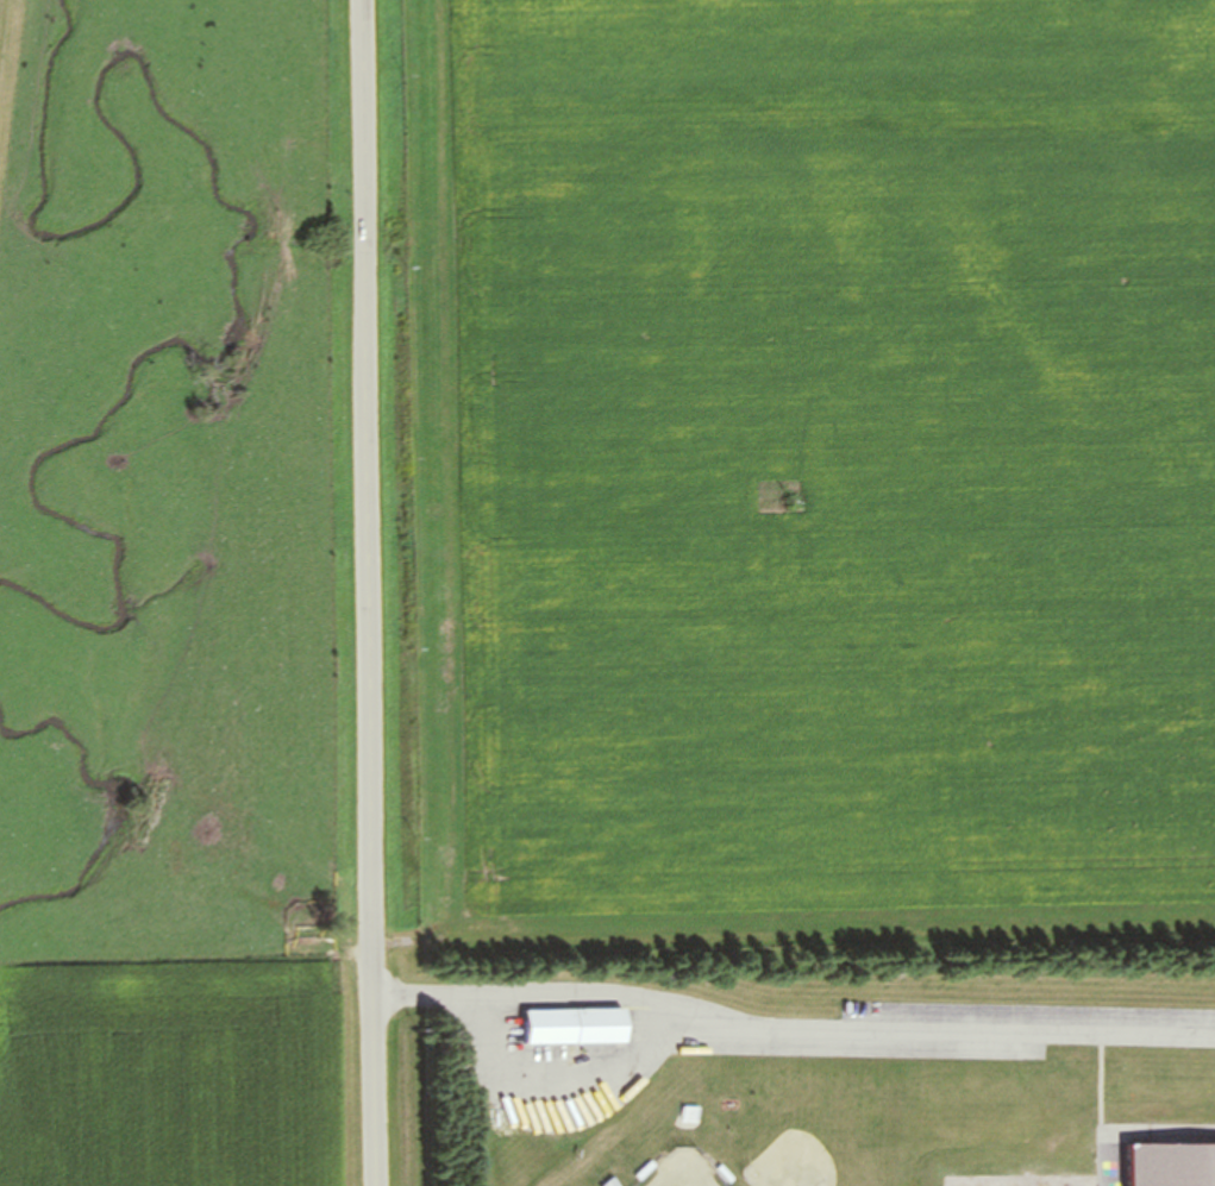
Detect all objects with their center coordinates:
road: (369, 592)
parking lot: (1028, 1015)
building: (578, 1028)
road: (791, 1033)
road: (1103, 1085)
park: (688, 1156)
building: (1175, 1166)

